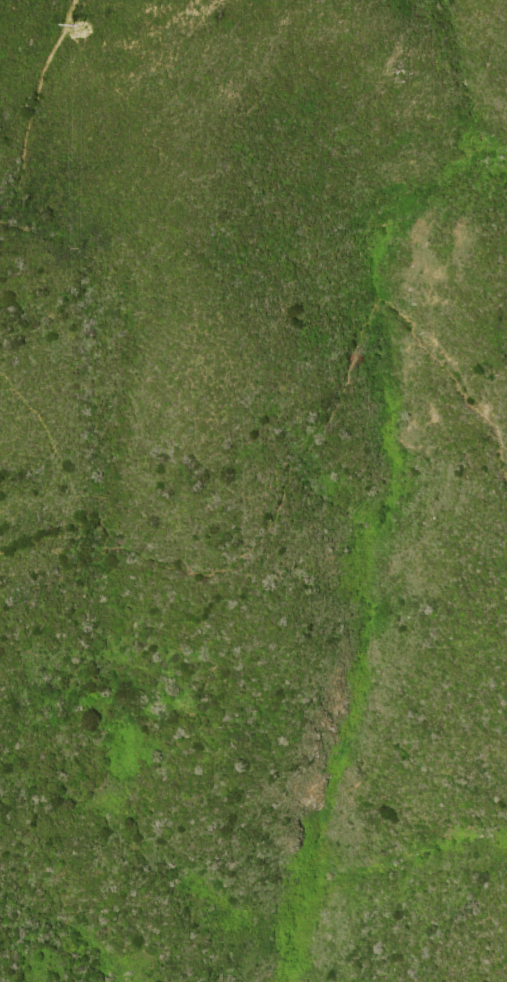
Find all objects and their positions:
road: (29, 101)
road: (283, 481)
park: (225, 703)

